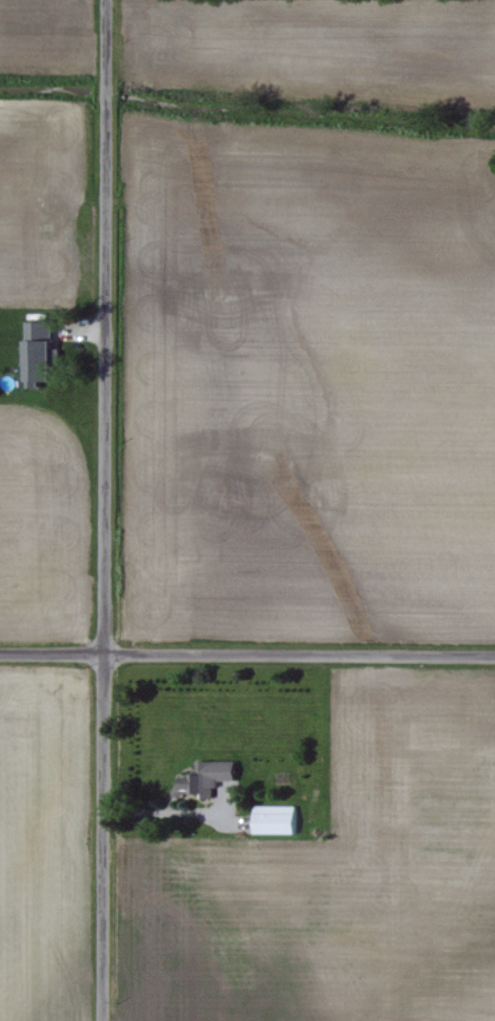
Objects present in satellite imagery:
building: (44, 354)
road: (97, 510)
road: (47, 649)
road: (295, 651)
building: (210, 777)
road: (153, 812)
building: (279, 820)

